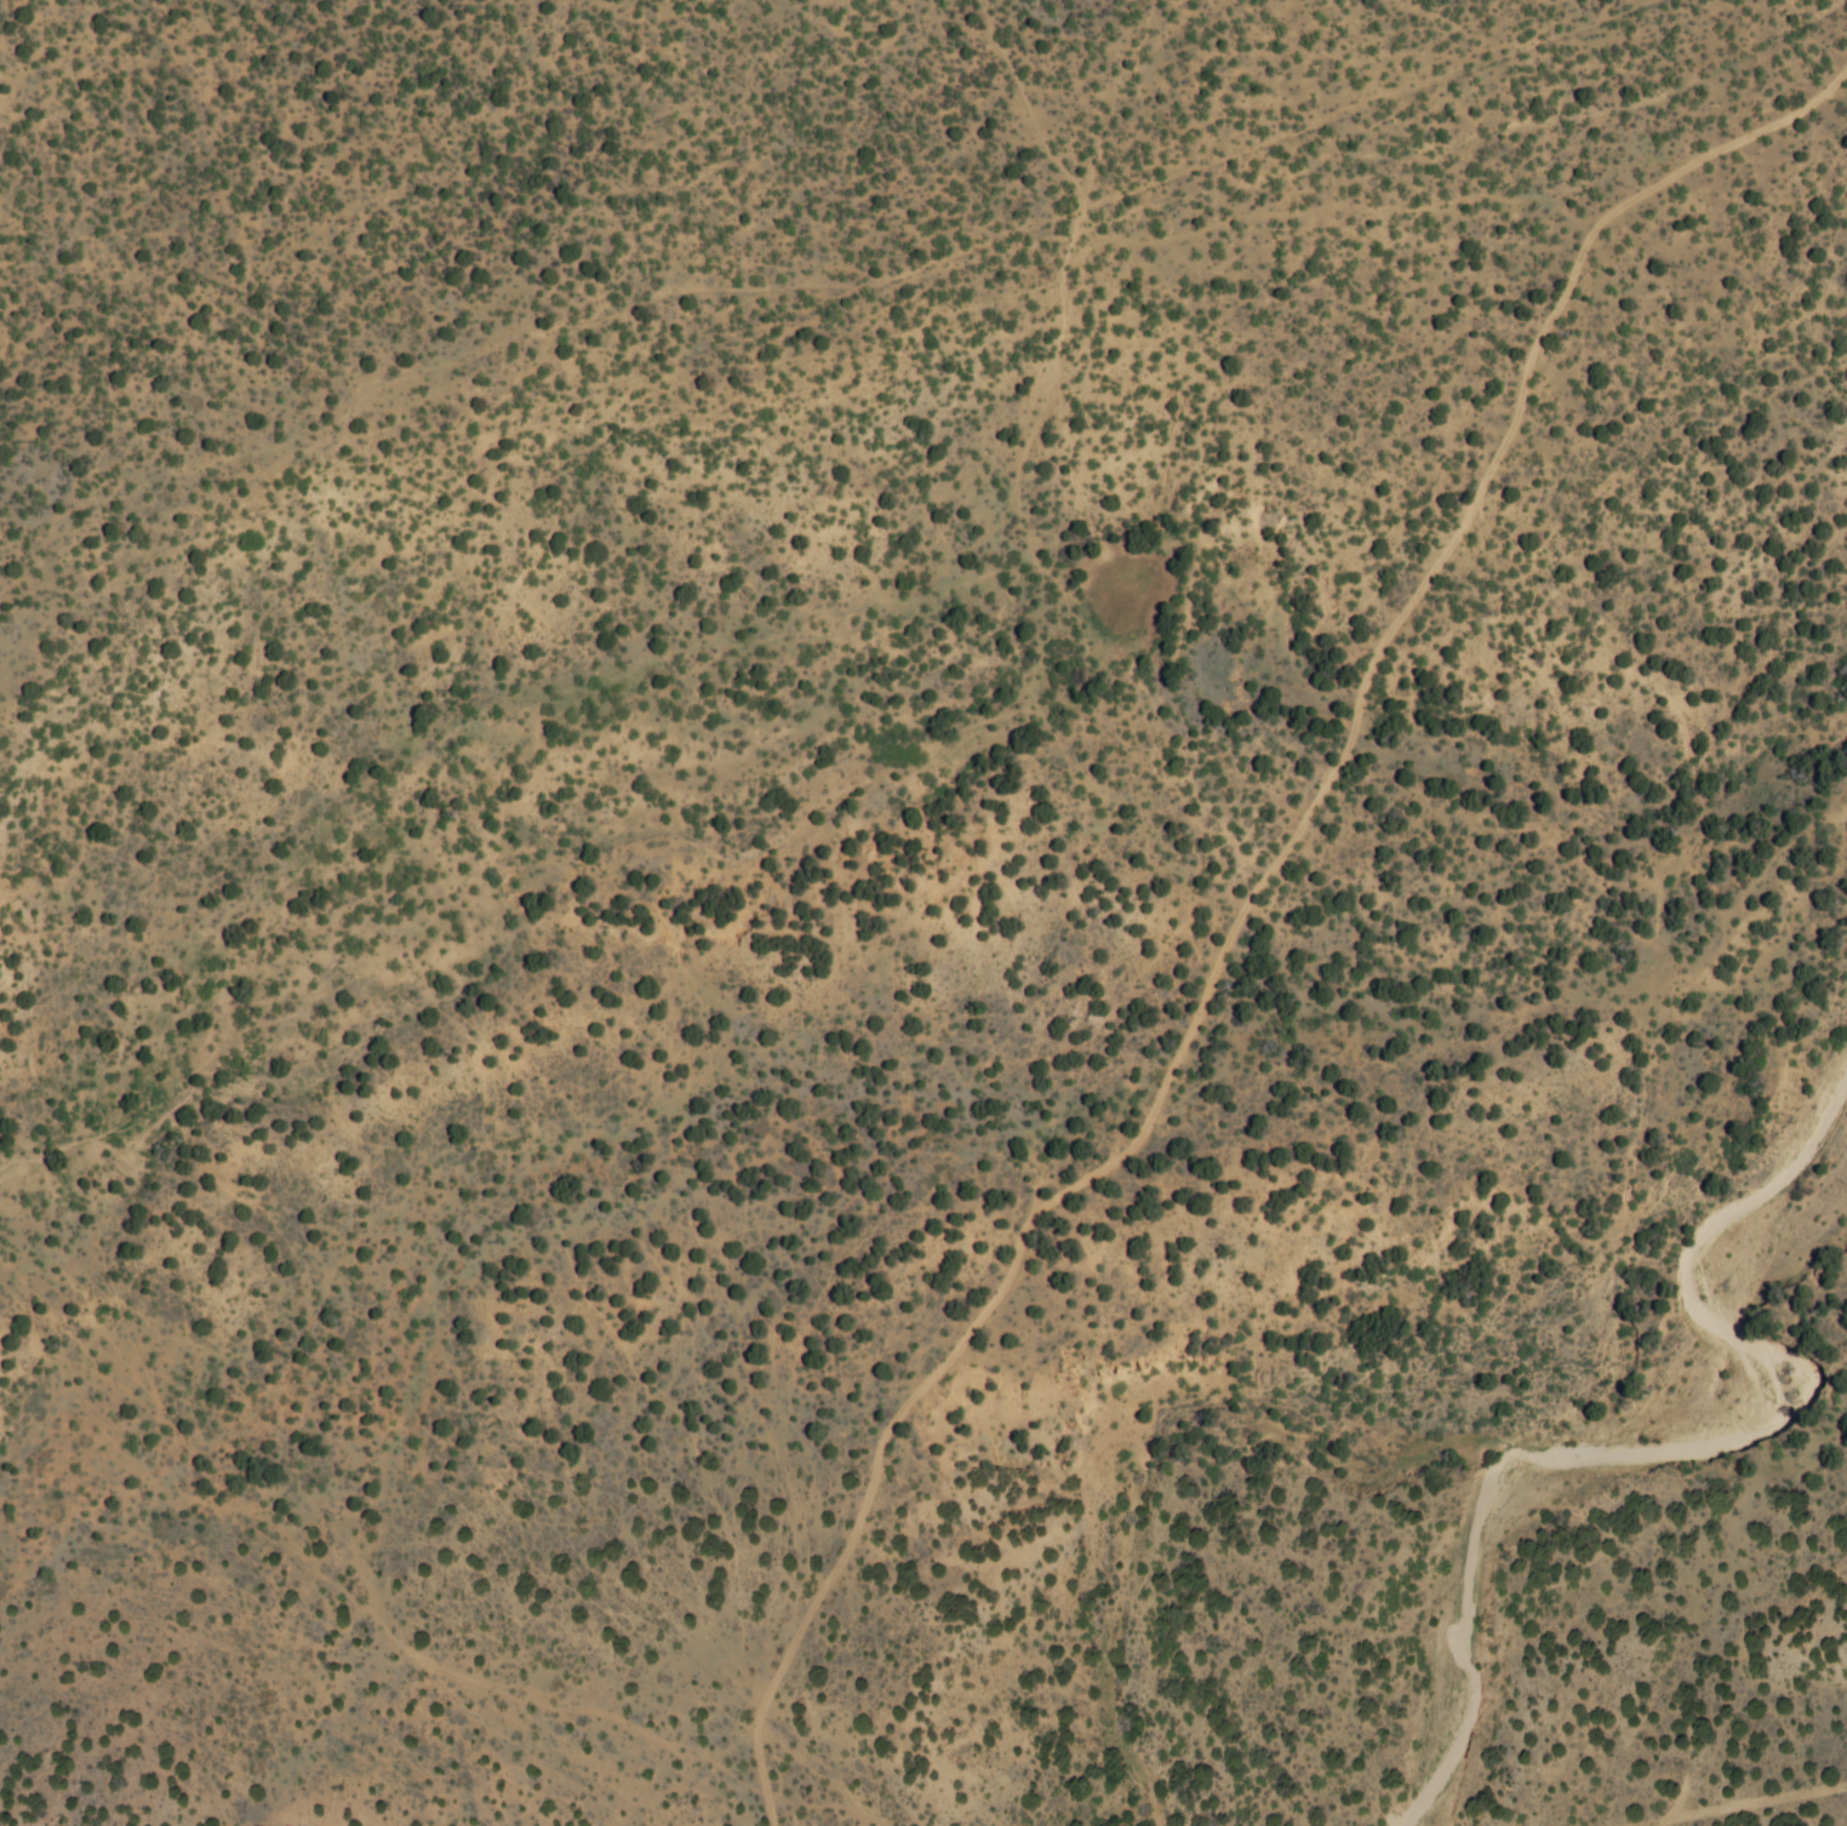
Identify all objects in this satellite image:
road: (1722, 150)
road: (1338, 208)
road: (605, 360)
road: (1183, 1044)

